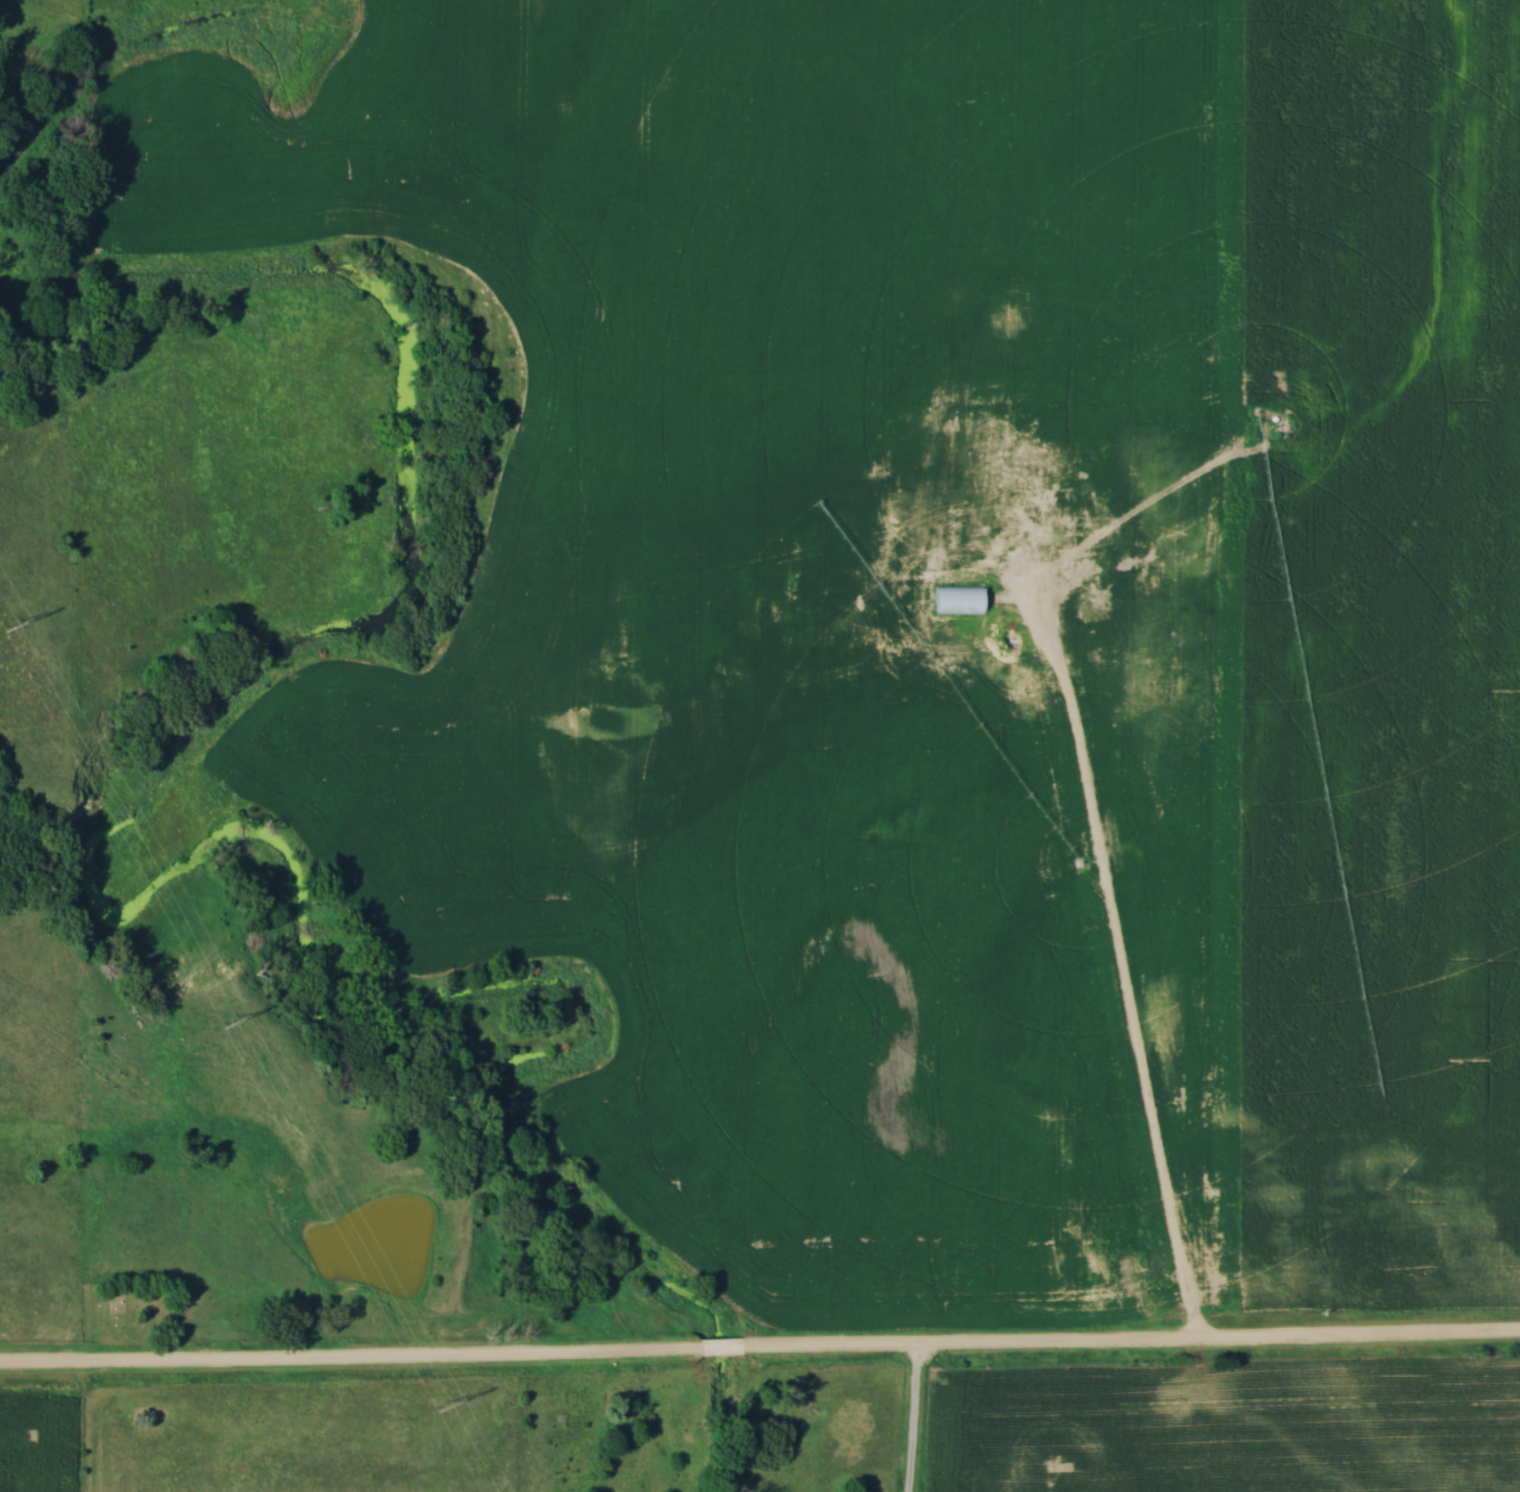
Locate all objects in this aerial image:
river: (89, 55)
building: (927, 463)
building: (834, 503)
building: (1024, 505)
building: (638, 517)
building: (912, 531)
building: (1022, 547)
building: (1229, 585)
building: (953, 600)
building: (1089, 607)
building: (901, 615)
power tower: (8, 628)
river: (175, 863)
road: (1125, 996)
power tower: (222, 1021)
road: (1128, 1343)
road: (715, 1347)
road: (346, 1359)
power tower: (440, 1405)
road: (910, 1417)

